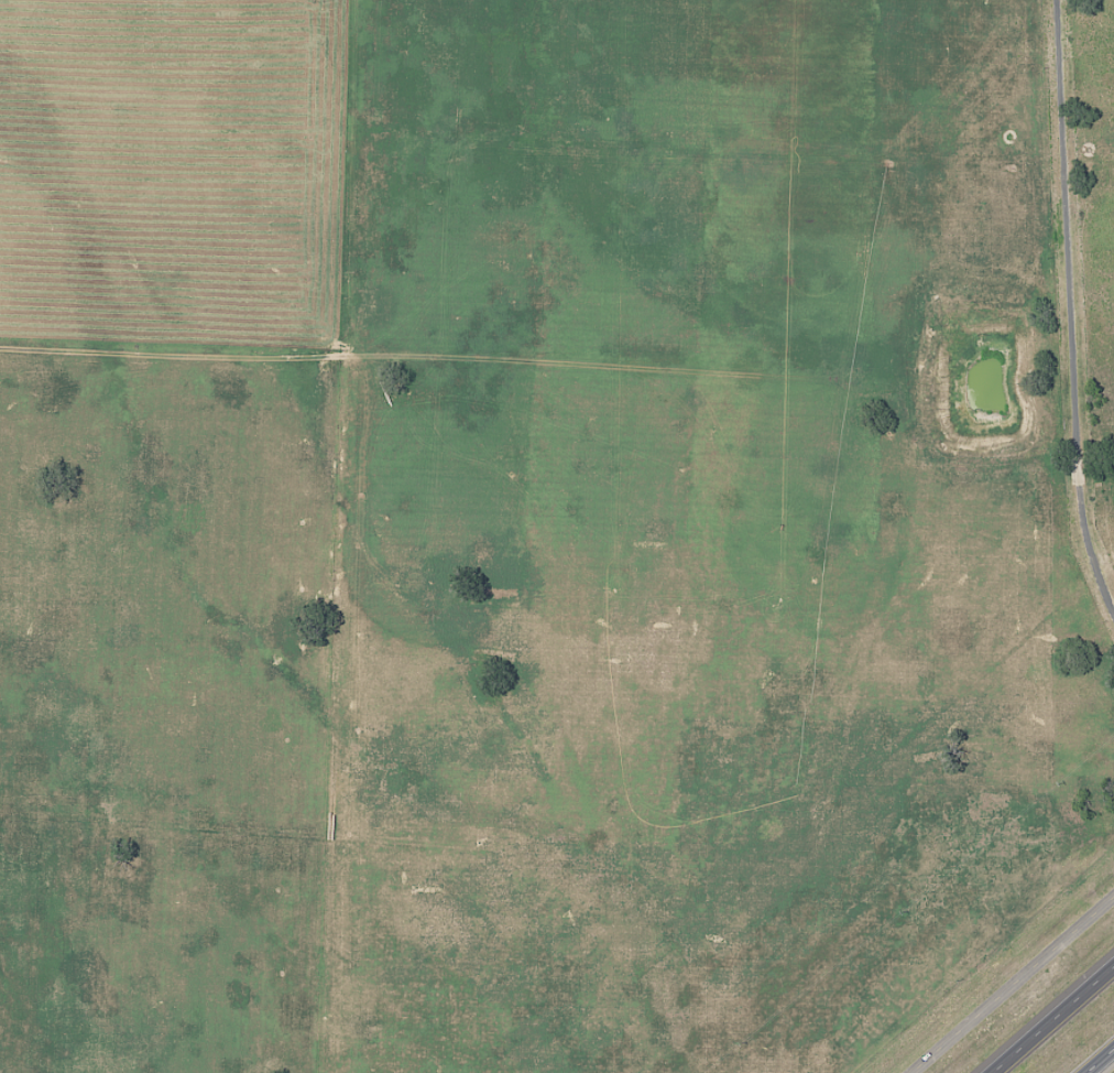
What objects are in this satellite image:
road: (1071, 308)
road: (1012, 984)
road: (1047, 1014)
road: (1102, 1062)

